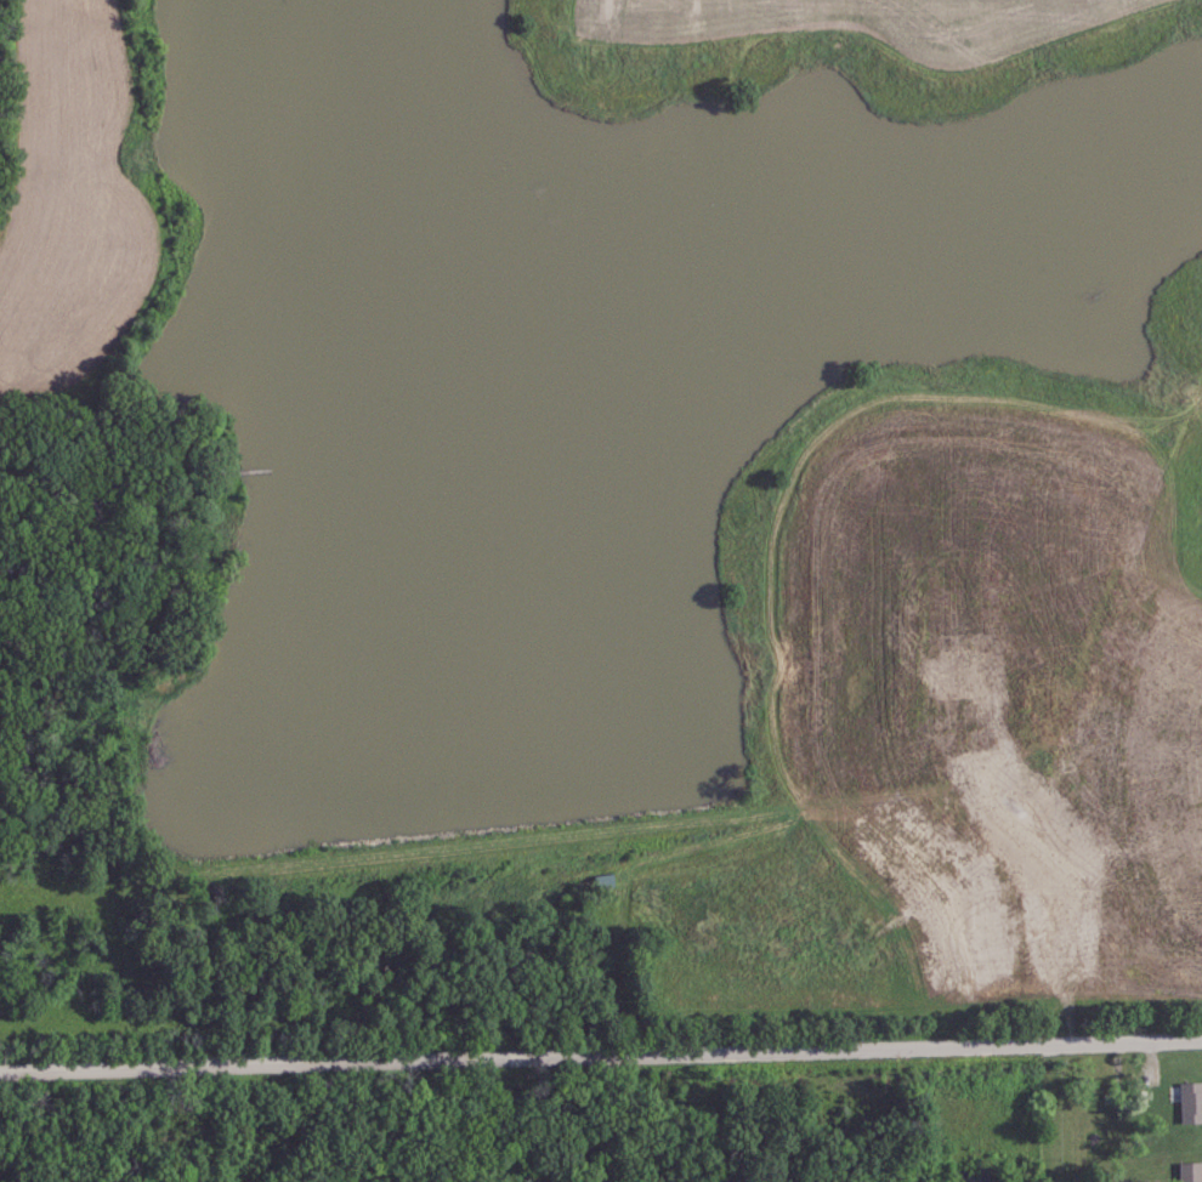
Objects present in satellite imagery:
road: (600, 1055)
building: (1190, 1102)
road: (1050, 1114)
road: (613, 1118)
building: (1191, 1171)

